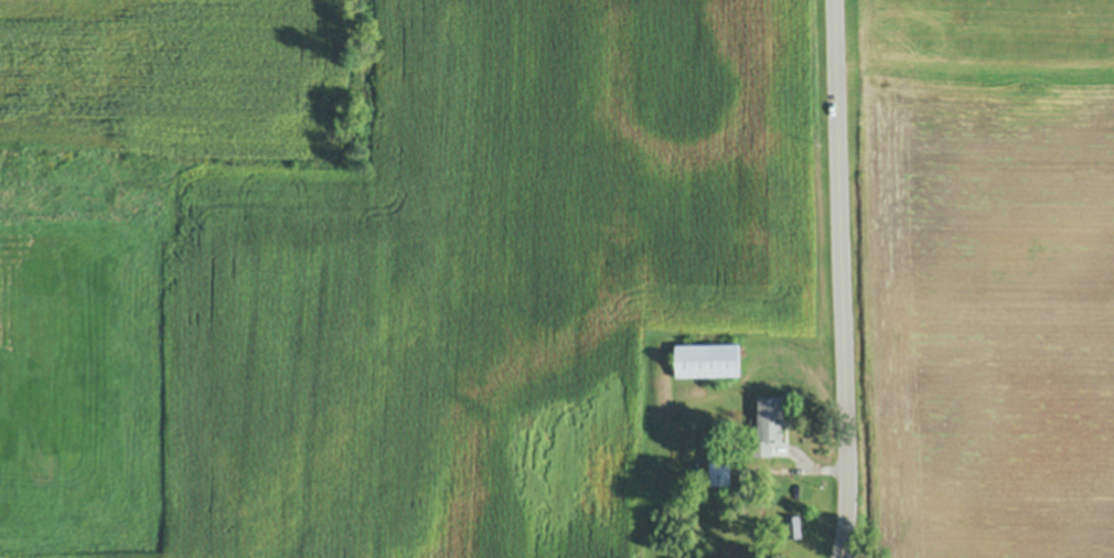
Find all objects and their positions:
road: (843, 279)
building: (707, 360)
building: (752, 422)
building: (768, 425)
building: (718, 470)
building: (794, 527)

